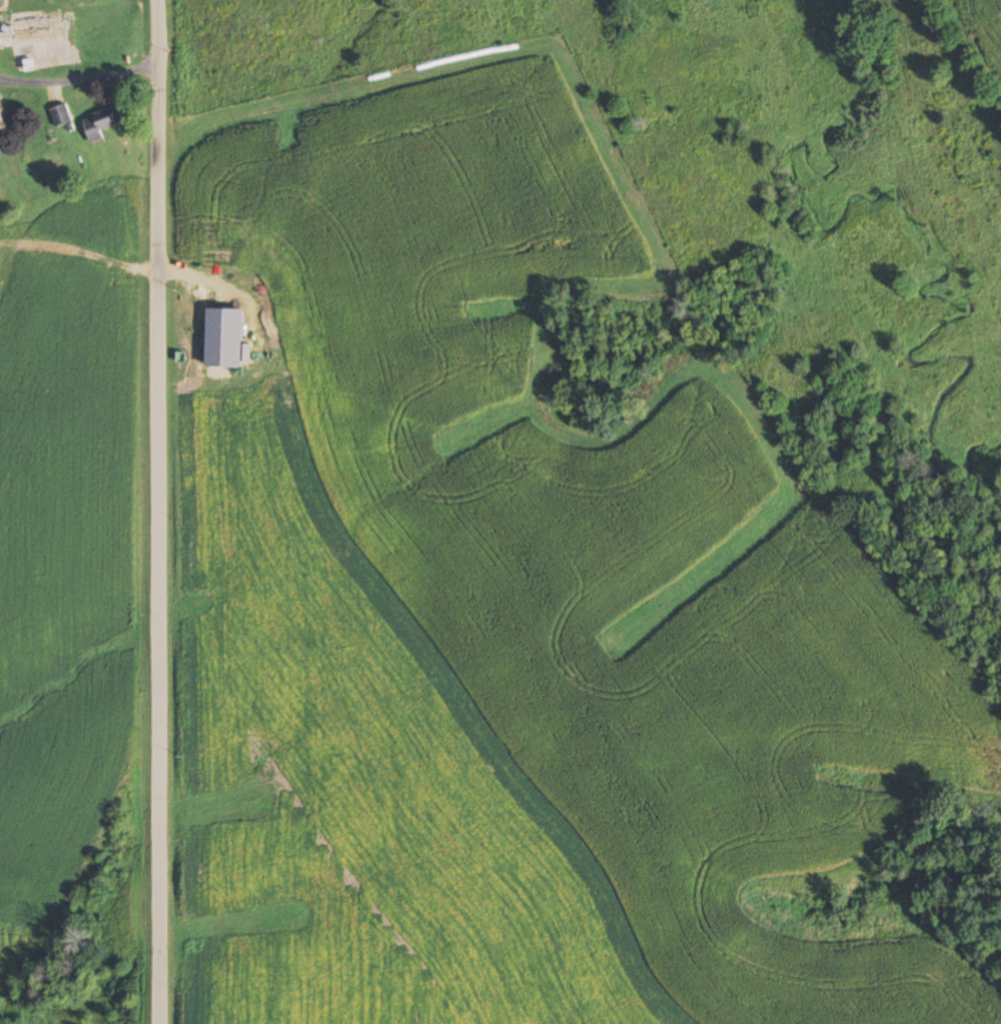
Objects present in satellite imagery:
building: (2, 13)
road: (78, 76)
building: (60, 115)
building: (2, 120)
building: (100, 123)
road: (158, 511)

